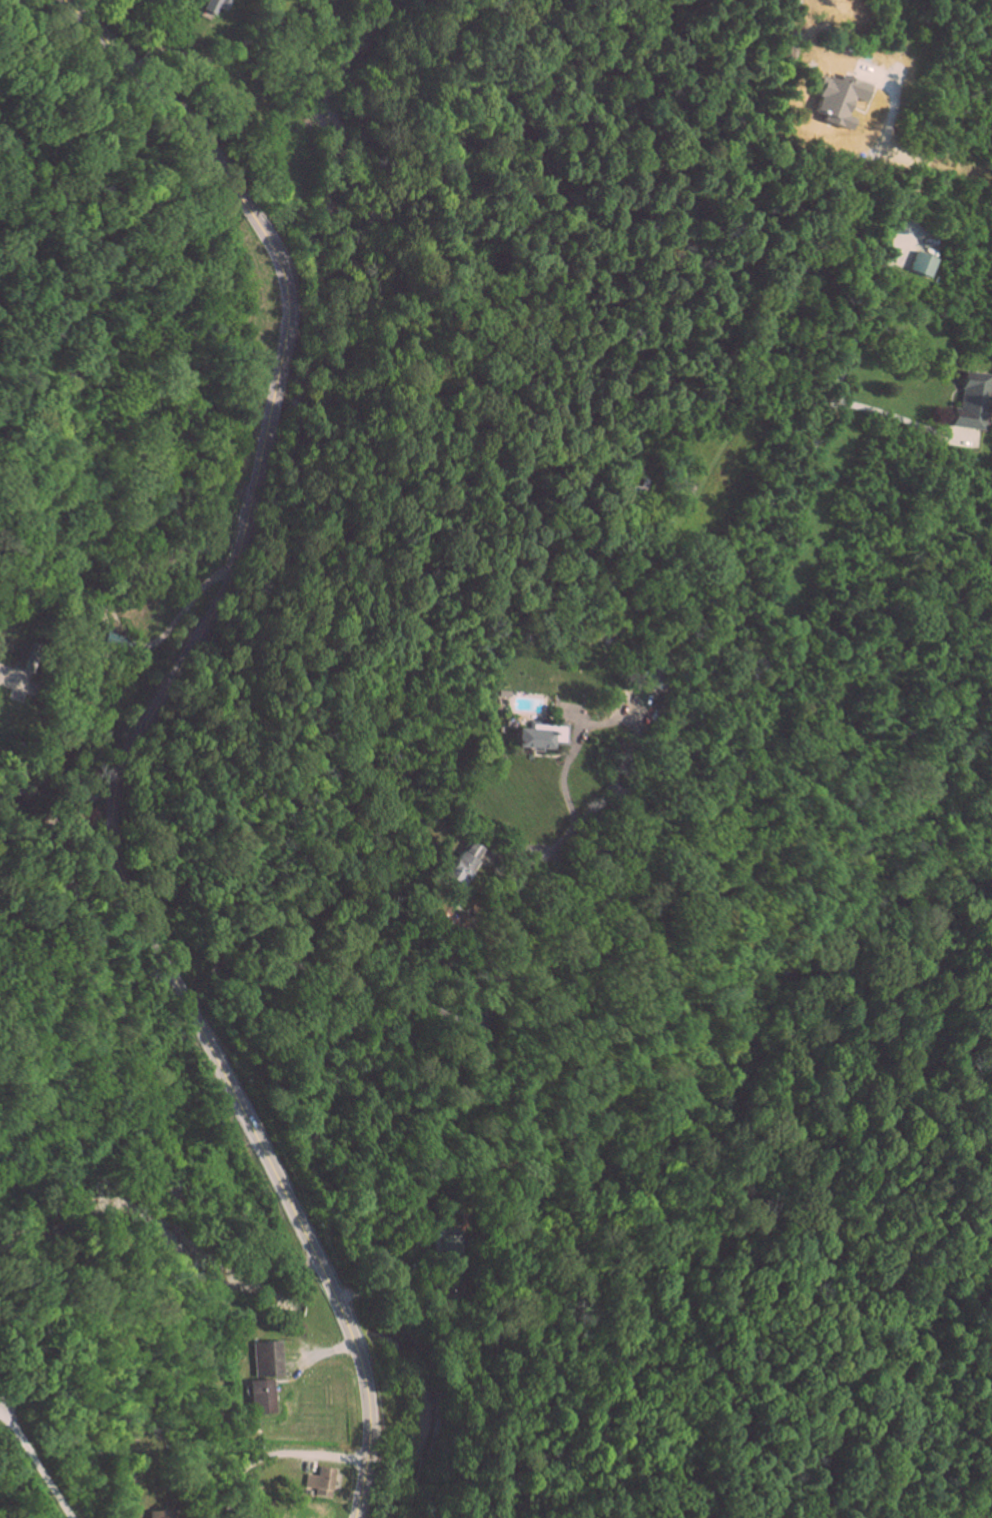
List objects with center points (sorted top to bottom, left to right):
building: (214, 6)
road: (214, 57)
building: (835, 101)
road: (891, 119)
building: (921, 263)
building: (971, 399)
road: (891, 413)
road: (129, 646)
building: (652, 680)
road: (691, 717)
road: (592, 725)
road: (140, 733)
building: (535, 737)
road: (209, 980)
road: (392, 1291)
road: (323, 1351)
building: (266, 1357)
road: (274, 1455)
road: (36, 1465)

